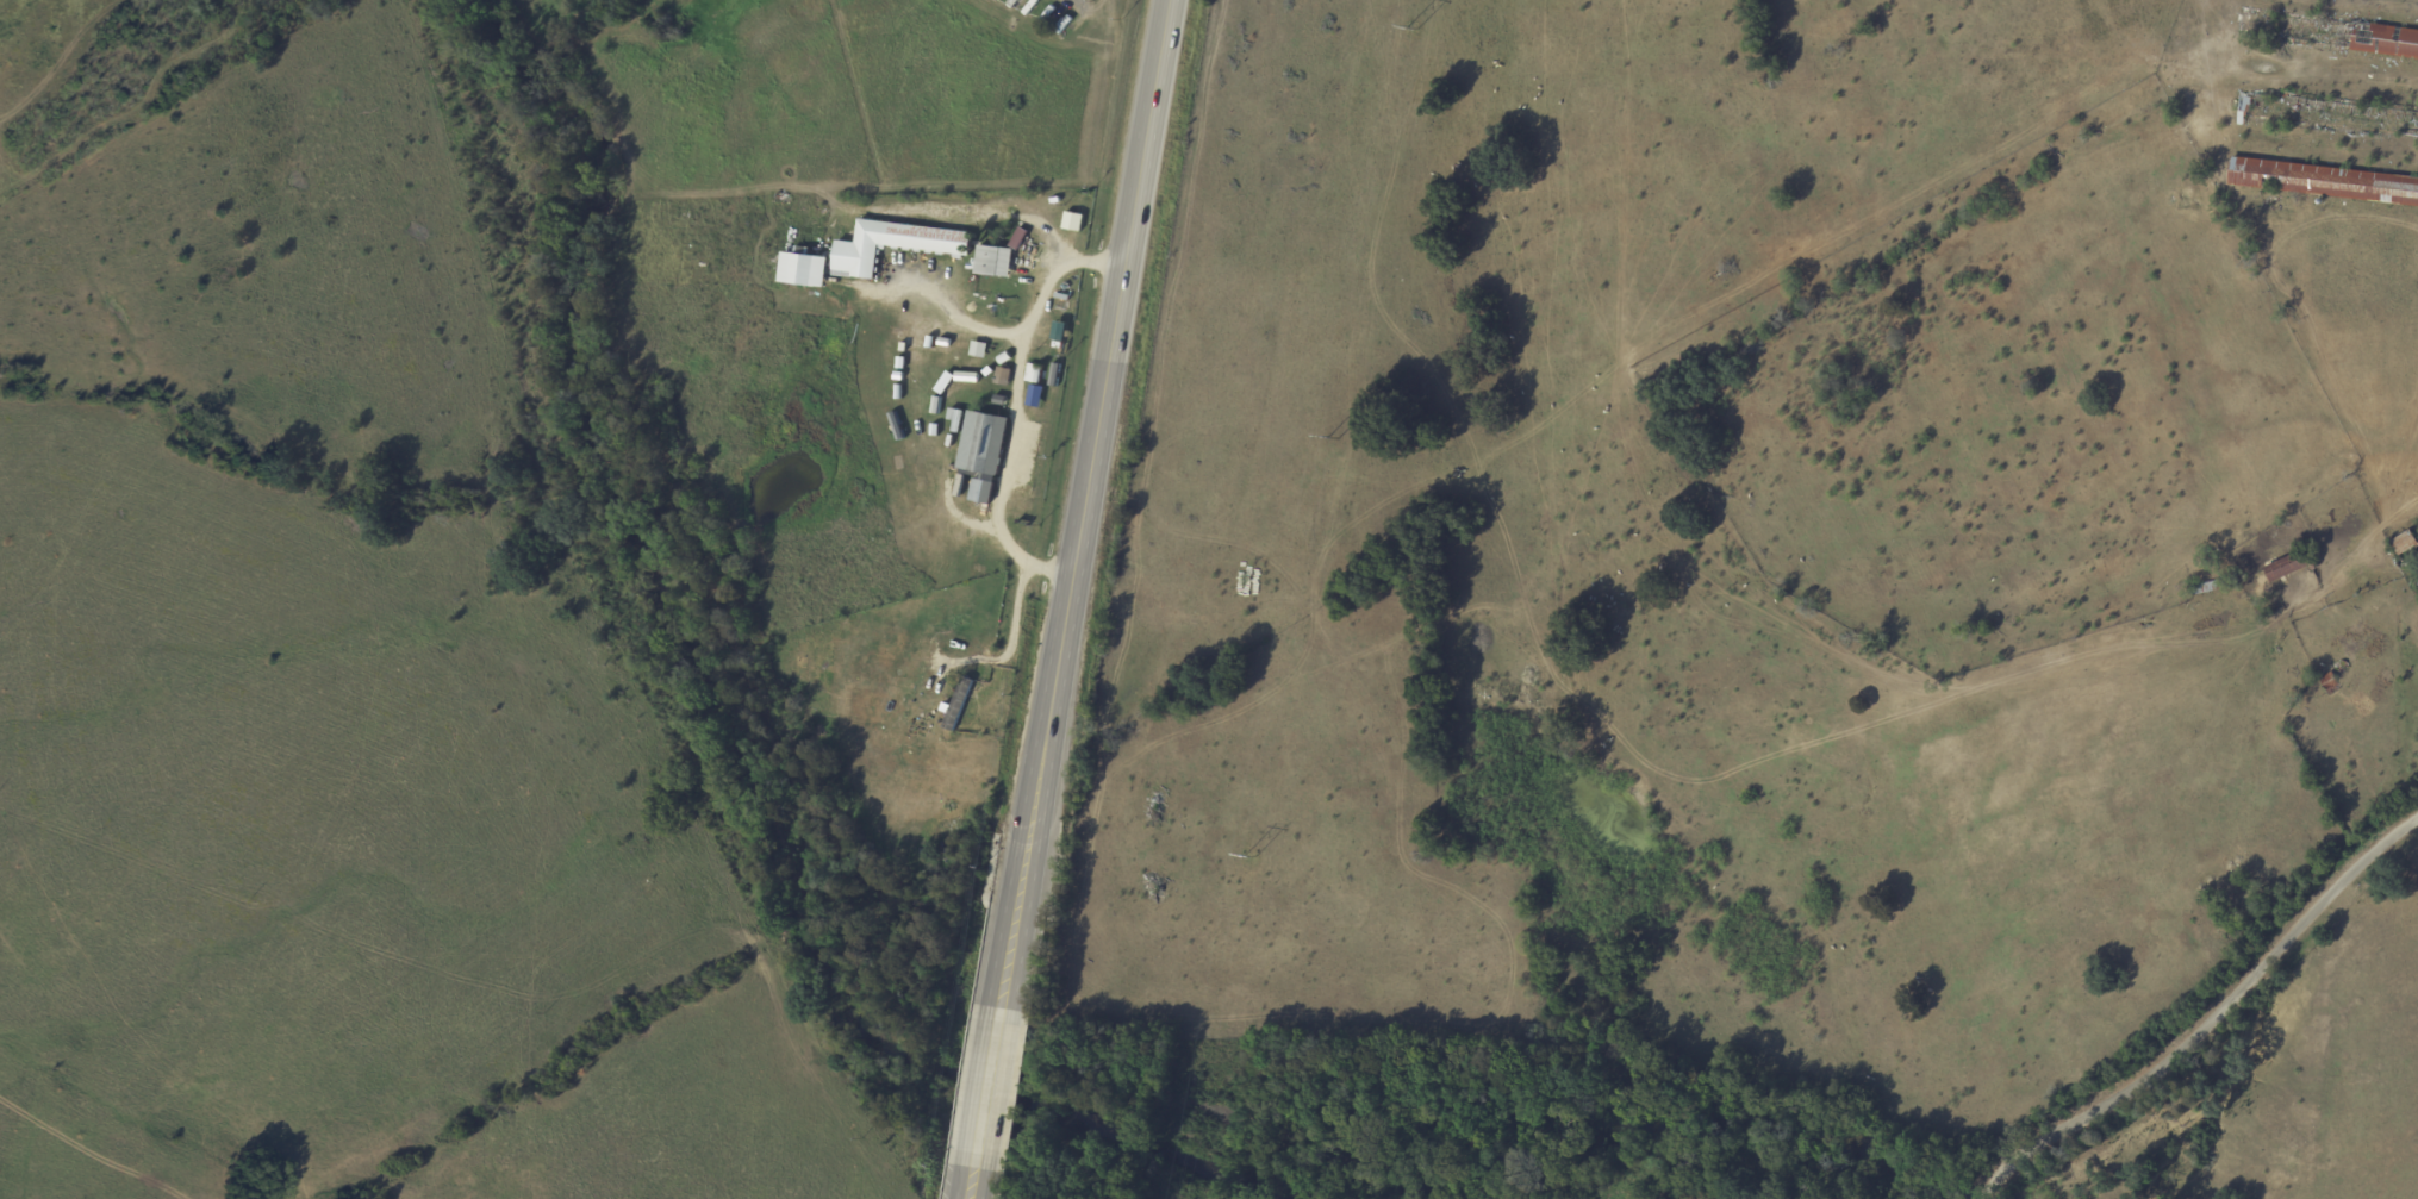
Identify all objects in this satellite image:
power tower: (1411, 27)
building: (2324, 181)
building: (1068, 225)
building: (892, 245)
building: (993, 261)
building: (802, 270)
building: (1033, 373)
building: (1002, 376)
road: (1005, 412)
building: (954, 419)
power tower: (1332, 442)
building: (981, 454)
road: (1083, 502)
building: (979, 563)
building: (958, 704)
power tower: (1248, 855)
road: (2210, 1024)
road: (987, 1087)
road: (971, 1184)

